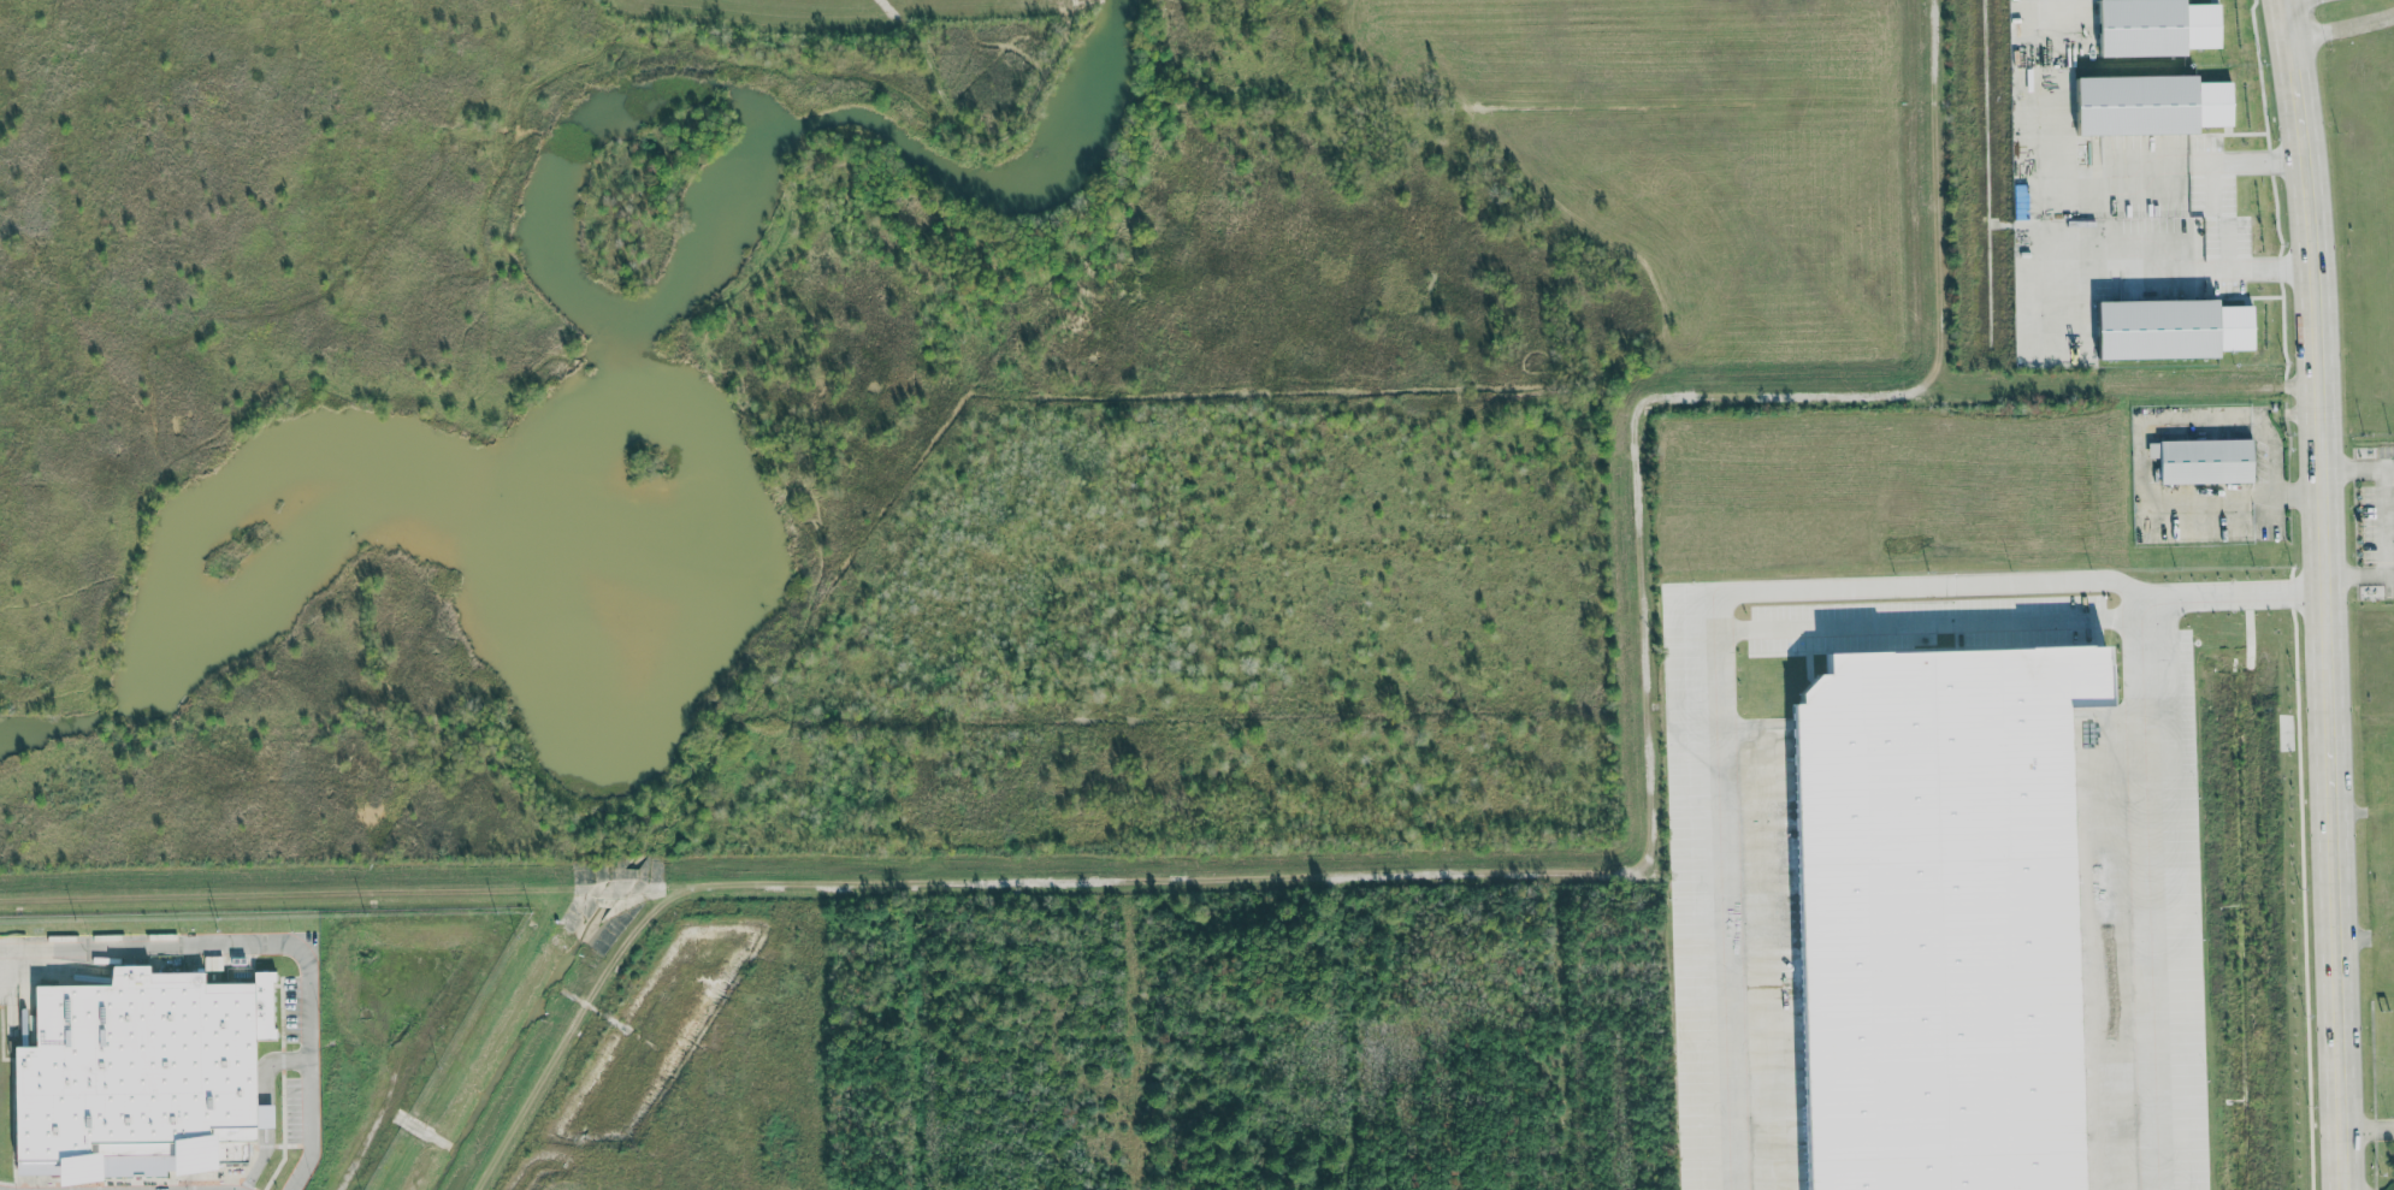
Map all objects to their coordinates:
building: (2147, 28)
road: (2342, 29)
building: (2206, 103)
building: (2124, 106)
road: (2217, 213)
building: (2162, 330)
building: (2197, 461)
road: (2358, 468)
road: (2252, 493)
road: (2383, 521)
road: (2358, 575)
road: (2325, 593)
road: (1928, 623)
road: (1716, 681)
building: (2057, 756)
road: (2142, 800)
building: (1807, 809)
road: (270, 946)
building: (142, 1076)
road: (267, 1108)
road: (2365, 1126)
building: (1805, 1171)
parking lot: (19, 1189)
road: (182, 1189)
road: (211, 1189)

